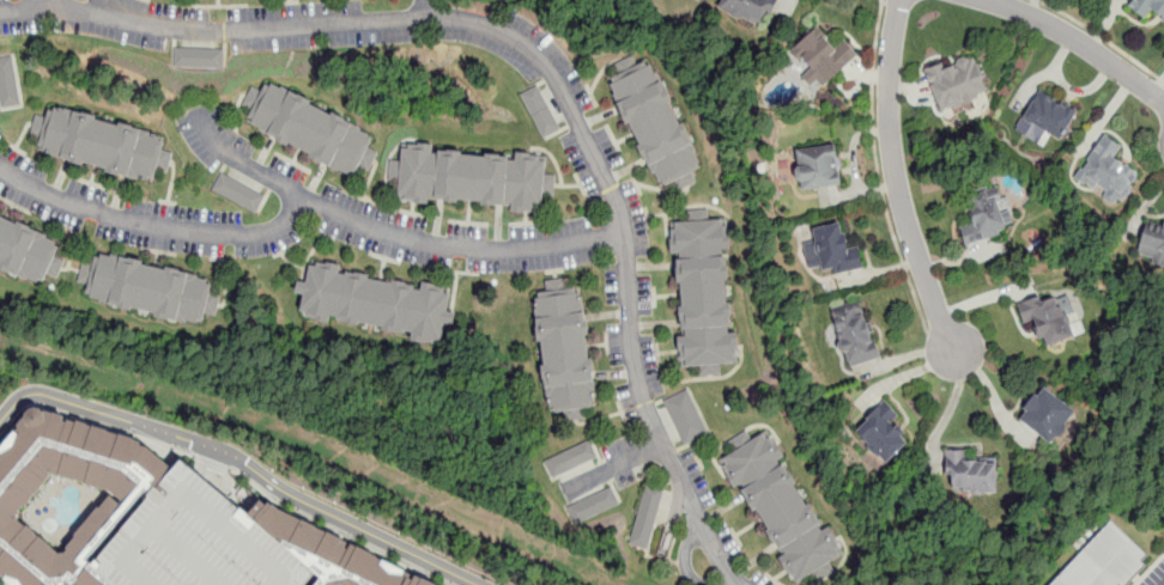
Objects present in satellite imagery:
building: (698, 0)
road: (54, 4)
building: (1147, 6)
building: (745, 7)
road: (425, 8)
road: (1102, 36)
road: (1084, 42)
building: (819, 57)
building: (201, 59)
building: (953, 81)
building: (7, 83)
building: (536, 110)
building: (1045, 114)
building: (660, 122)
building: (307, 129)
building: (107, 142)
road: (245, 165)
building: (814, 166)
road: (878, 170)
building: (1104, 171)
building: (474, 177)
road: (896, 178)
building: (244, 191)
road: (611, 191)
building: (988, 215)
building: (1156, 240)
building: (841, 249)
building: (25, 254)
building: (1163, 262)
building: (148, 288)
building: (708, 293)
building: (371, 300)
building: (1049, 318)
building: (859, 334)
building: (566, 348)
building: (1048, 414)
building: (691, 416)
road: (650, 418)
road: (90, 422)
building: (884, 431)
building: (575, 458)
road: (212, 462)
road: (240, 462)
road: (618, 467)
building: (974, 471)
building: (600, 504)
building: (786, 506)
building: (62, 511)
building: (653, 517)
building: (162, 524)
road: (333, 530)
parking garage: (194, 542)
road: (685, 556)
building: (1103, 560)
road: (4, 581)

